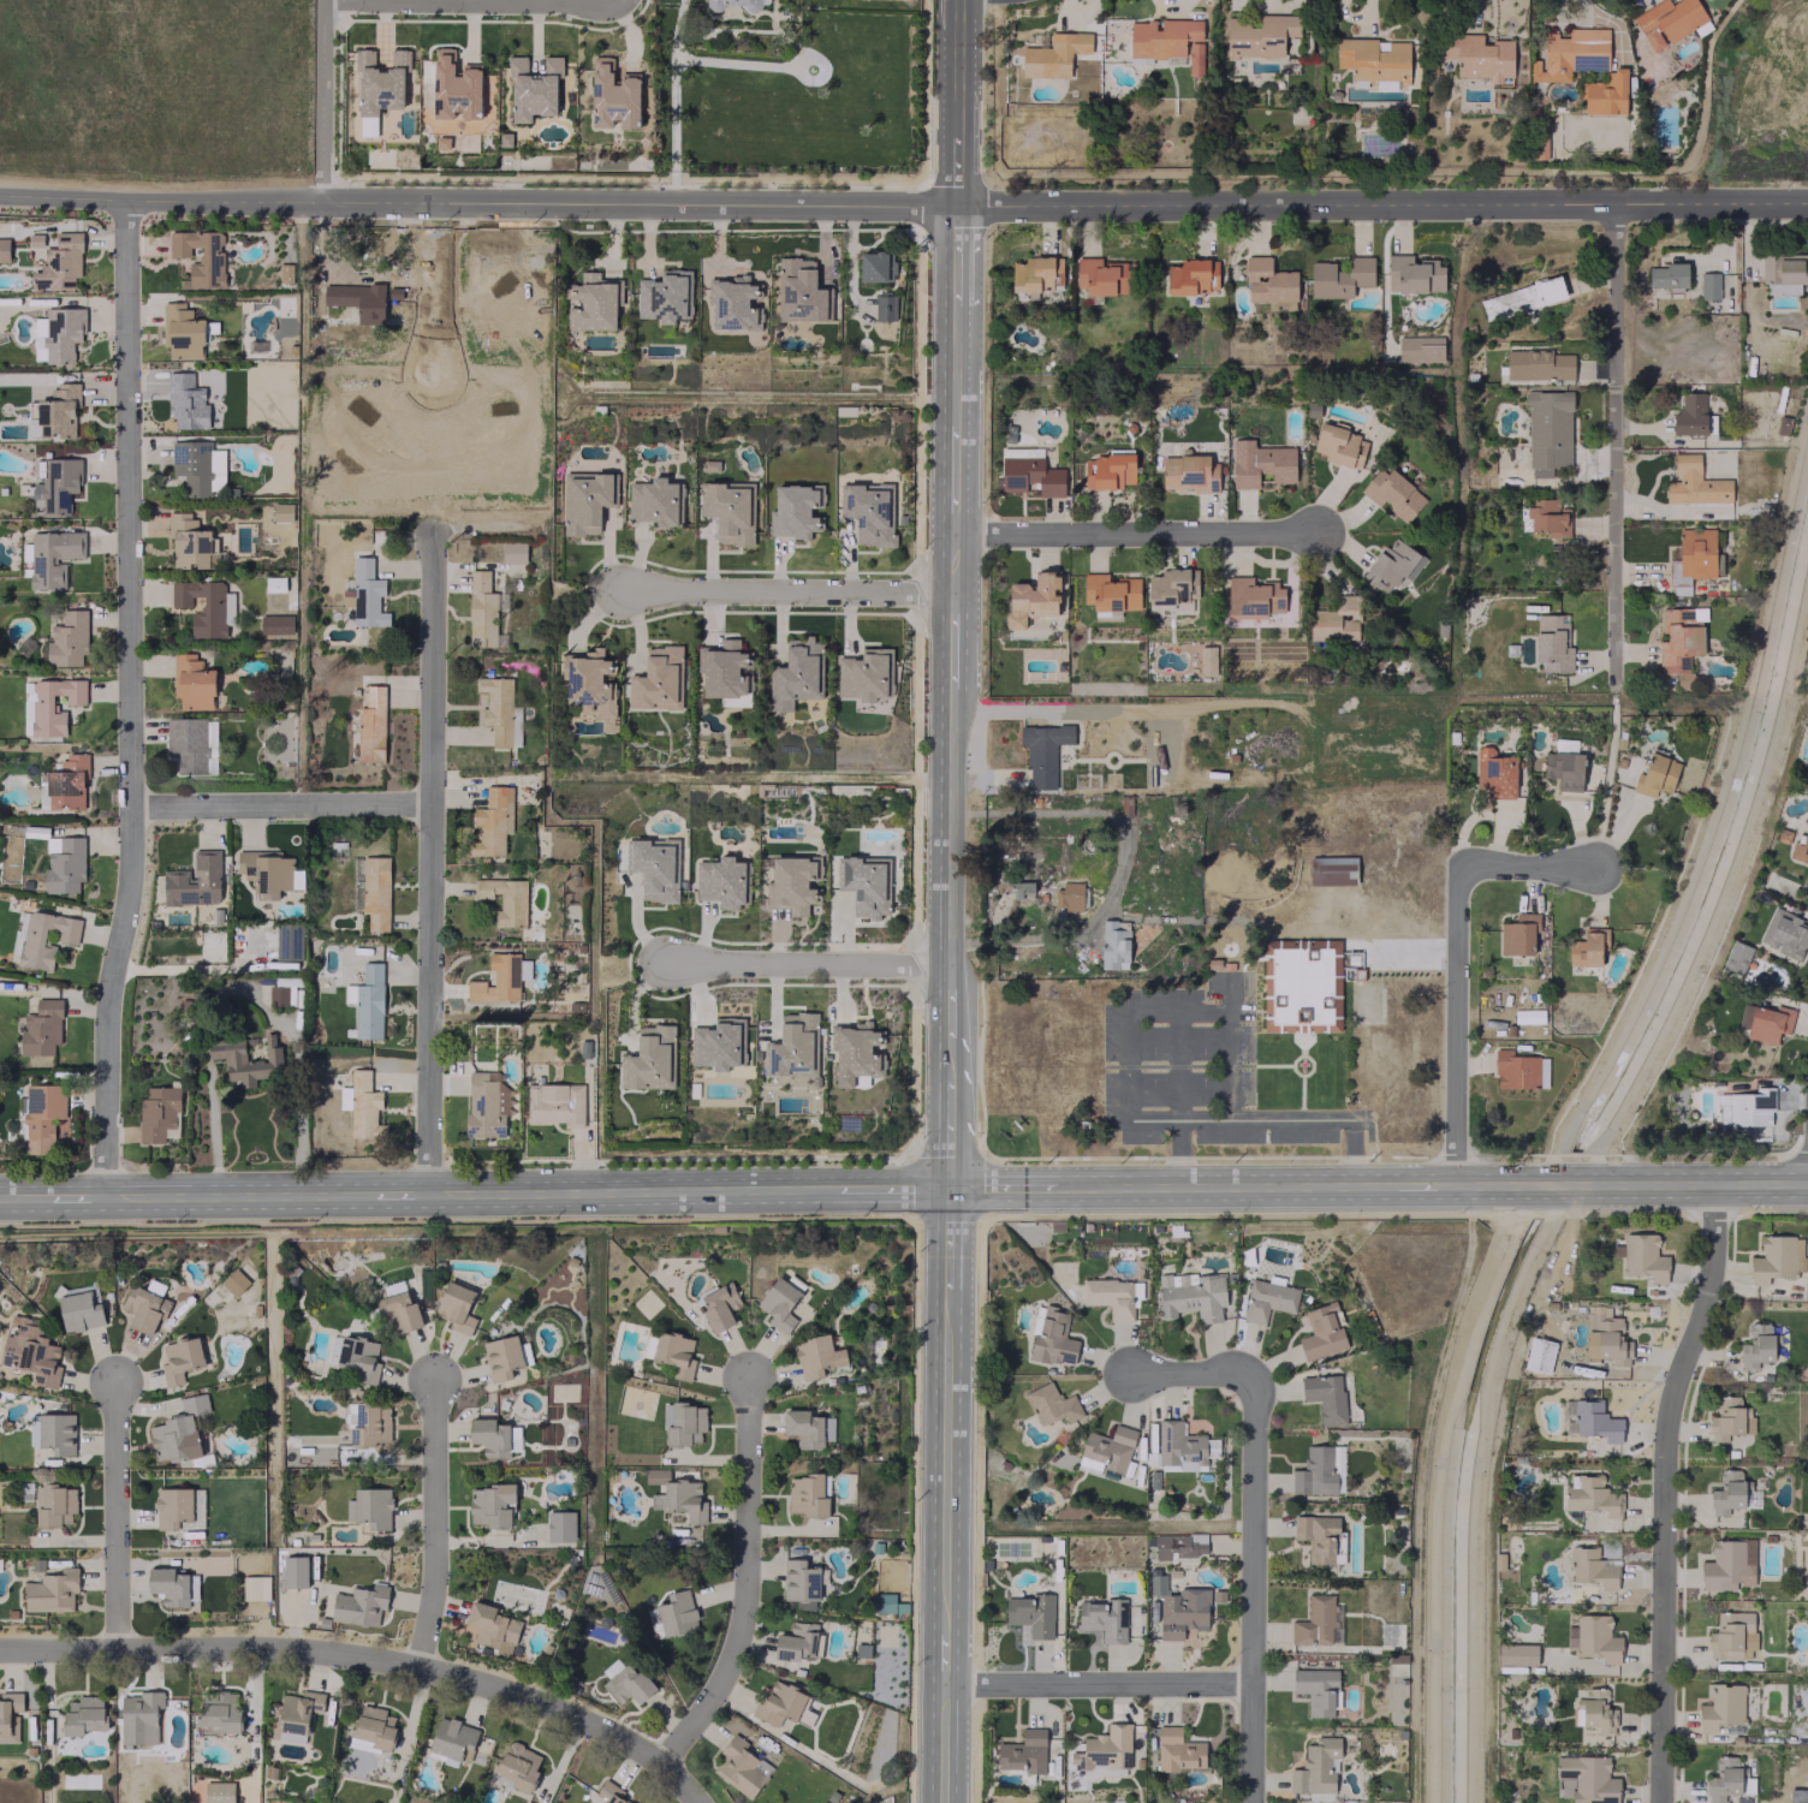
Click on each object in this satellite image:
road: (322, 0)
road: (373, 0)
building: (734, 4)
building: (1667, 20)
building: (1261, 36)
building: (1167, 40)
road: (956, 52)
building: (1570, 53)
building: (1054, 54)
building: (1477, 55)
building: (1374, 60)
building: (380, 82)
building: (454, 87)
building: (531, 88)
building: (1605, 94)
building: (613, 95)
road: (323, 101)
building: (368, 125)
building: (441, 143)
road: (954, 155)
road: (476, 203)
road: (1381, 203)
building: (4, 250)
building: (200, 256)
building: (59, 263)
building: (876, 266)
building: (1784, 270)
building: (1036, 274)
building: (1412, 274)
building: (1667, 274)
building: (1102, 276)
building: (1193, 276)
building: (1339, 276)
building: (1268, 281)
building: (1708, 285)
road: (432, 290)
building: (798, 291)
building: (665, 296)
building: (357, 299)
building: (594, 303)
building: (732, 303)
building: (885, 308)
building: (180, 331)
building: (56, 333)
building: (1420, 349)
building: (1538, 364)
road: (757, 394)
building: (185, 400)
building: (56, 411)
building: (1689, 412)
building: (1547, 432)
road: (1613, 438)
building: (281, 439)
building: (1340, 446)
building: (1260, 463)
building: (198, 468)
building: (1107, 471)
building: (1188, 472)
building: (1030, 475)
building: (1694, 482)
building: (56, 483)
building: (1391, 493)
building: (584, 500)
building: (653, 501)
building: (728, 510)
building: (795, 510)
building: (281, 511)
building: (867, 512)
building: (1548, 517)
road: (486, 525)
road: (1136, 532)
building: (191, 542)
building: (512, 552)
building: (1718, 555)
building: (53, 557)
building: (1691, 559)
building: (1391, 566)
building: (274, 583)
building: (1171, 587)
road: (787, 590)
building: (363, 594)
building: (1110, 594)
building: (1253, 595)
building: (1033, 597)
building: (204, 606)
building: (483, 611)
building: (1336, 619)
road: (950, 623)
building: (275, 624)
building: (67, 638)
building: (1676, 639)
building: (1552, 643)
building: (1207, 660)
building: (722, 670)
building: (796, 674)
building: (867, 674)
building: (658, 679)
building: (589, 680)
building: (191, 682)
road: (131, 696)
building: (41, 707)
building: (499, 710)
building: (370, 725)
building: (191, 744)
building: (1043, 749)
building: (1564, 769)
building: (1494, 772)
building: (1655, 775)
building: (67, 781)
building: (42, 790)
road: (280, 803)
building: (492, 821)
building: (1800, 847)
road: (427, 859)
building: (64, 863)
road: (1119, 864)
building: (653, 869)
building: (1332, 870)
building: (194, 880)
building: (720, 881)
building: (791, 885)
building: (863, 885)
building: (1023, 889)
building: (375, 892)
building: (1067, 895)
building: (505, 899)
building: (1785, 933)
building: (66, 935)
building: (1518, 935)
building: (1114, 944)
building: (1587, 947)
road: (1455, 957)
building: (1736, 957)
building: (1350, 959)
building: (1211, 963)
road: (807, 964)
road: (1242, 964)
road: (192, 968)
building: (1301, 986)
road: (1227, 994)
building: (367, 1001)
road: (1129, 1012)
building: (1765, 1022)
building: (41, 1028)
building: (718, 1043)
road: (1302, 1043)
building: (792, 1045)
building: (854, 1051)
building: (649, 1059)
building: (268, 1060)
road: (1310, 1061)
road: (1177, 1065)
road: (1178, 1065)
road: (1272, 1065)
parking lot: (1193, 1069)
building: (1519, 1070)
road: (1301, 1096)
building: (344, 1097)
building: (487, 1102)
building: (557, 1103)
building: (364, 1106)
building: (1745, 1107)
road: (946, 1113)
building: (159, 1114)
building: (42, 1115)
road: (1290, 1119)
road: (1178, 1152)
road: (1351, 1152)
road: (1630, 1183)
road: (624, 1184)
road: (885, 1184)
road: (1417, 1184)
road: (1007, 1185)
road: (1226, 1185)
road: (63, 1192)
road: (234, 1192)
road: (392, 1192)
road: (8, 1194)
road: (946, 1245)
building: (1642, 1257)
building: (1777, 1257)
building: (234, 1281)
building: (1191, 1295)
building: (1112, 1296)
building: (1267, 1299)
park: (647, 1303)
building: (778, 1304)
building: (454, 1305)
building: (719, 1305)
building: (143, 1309)
building: (402, 1310)
building: (78, 1311)
building: (1322, 1331)
building: (1606, 1338)
building: (1053, 1339)
building: (1756, 1345)
building: (29, 1350)
building: (673, 1352)
building: (501, 1355)
building: (358, 1356)
building: (815, 1356)
building: (180, 1358)
road: (1193, 1373)
building: (1325, 1396)
park: (637, 1402)
building: (502, 1404)
building: (1051, 1404)
building: (1725, 1418)
building: (1590, 1420)
building: (684, 1423)
building: (369, 1424)
building: (803, 1428)
building: (56, 1432)
building: (178, 1432)
building: (489, 1435)
building: (1179, 1445)
building: (1107, 1450)
building: (1319, 1470)
road: (1665, 1488)
building: (1726, 1492)
road: (945, 1494)
building: (1589, 1494)
building: (679, 1495)
building: (808, 1495)
building: (490, 1504)
building: (54, 1505)
building: (369, 1506)
building: (178, 1507)
road: (113, 1512)
road: (432, 1521)
building: (560, 1525)
building: (1316, 1536)
building: (1179, 1545)
park: (1011, 1547)
building: (876, 1548)
building: (1727, 1564)
building: (1592, 1567)
road: (761, 1569)
road: (855, 1569)
building: (293, 1571)
building: (821, 1577)
road: (779, 1578)
building: (798, 1579)
road: (820, 1582)
road: (827, 1584)
building: (168, 1585)
road: (833, 1585)
building: (255, 1587)
road: (1255, 1588)
building: (52, 1590)
building: (888, 1603)
building: (359, 1605)
building: (804, 1605)
road: (872, 1606)
road: (741, 1608)
building: (677, 1614)
building: (1030, 1614)
building: (1104, 1618)
building: (1318, 1621)
building: (489, 1624)
park: (886, 1635)
building: (1731, 1636)
building: (1594, 1638)
building: (798, 1643)
road: (340, 1653)
building: (1516, 1654)
road: (1099, 1682)
building: (629, 1684)
building: (1316, 1689)
building: (777, 1702)
building: (1721, 1707)
building: (297, 1709)
building: (219, 1710)
building: (1576, 1710)
building: (1596, 1710)
building: (8, 1714)
building: (84, 1716)
building: (139, 1716)
building: (373, 1726)
building: (450, 1737)
road: (942, 1743)
building: (1104, 1748)
building: (1177, 1750)
building: (1023, 1751)
building: (517, 1766)
building: (739, 1767)
building: (1316, 1767)
building: (1723, 1778)
building: (218, 1792)
building: (608, 1792)

